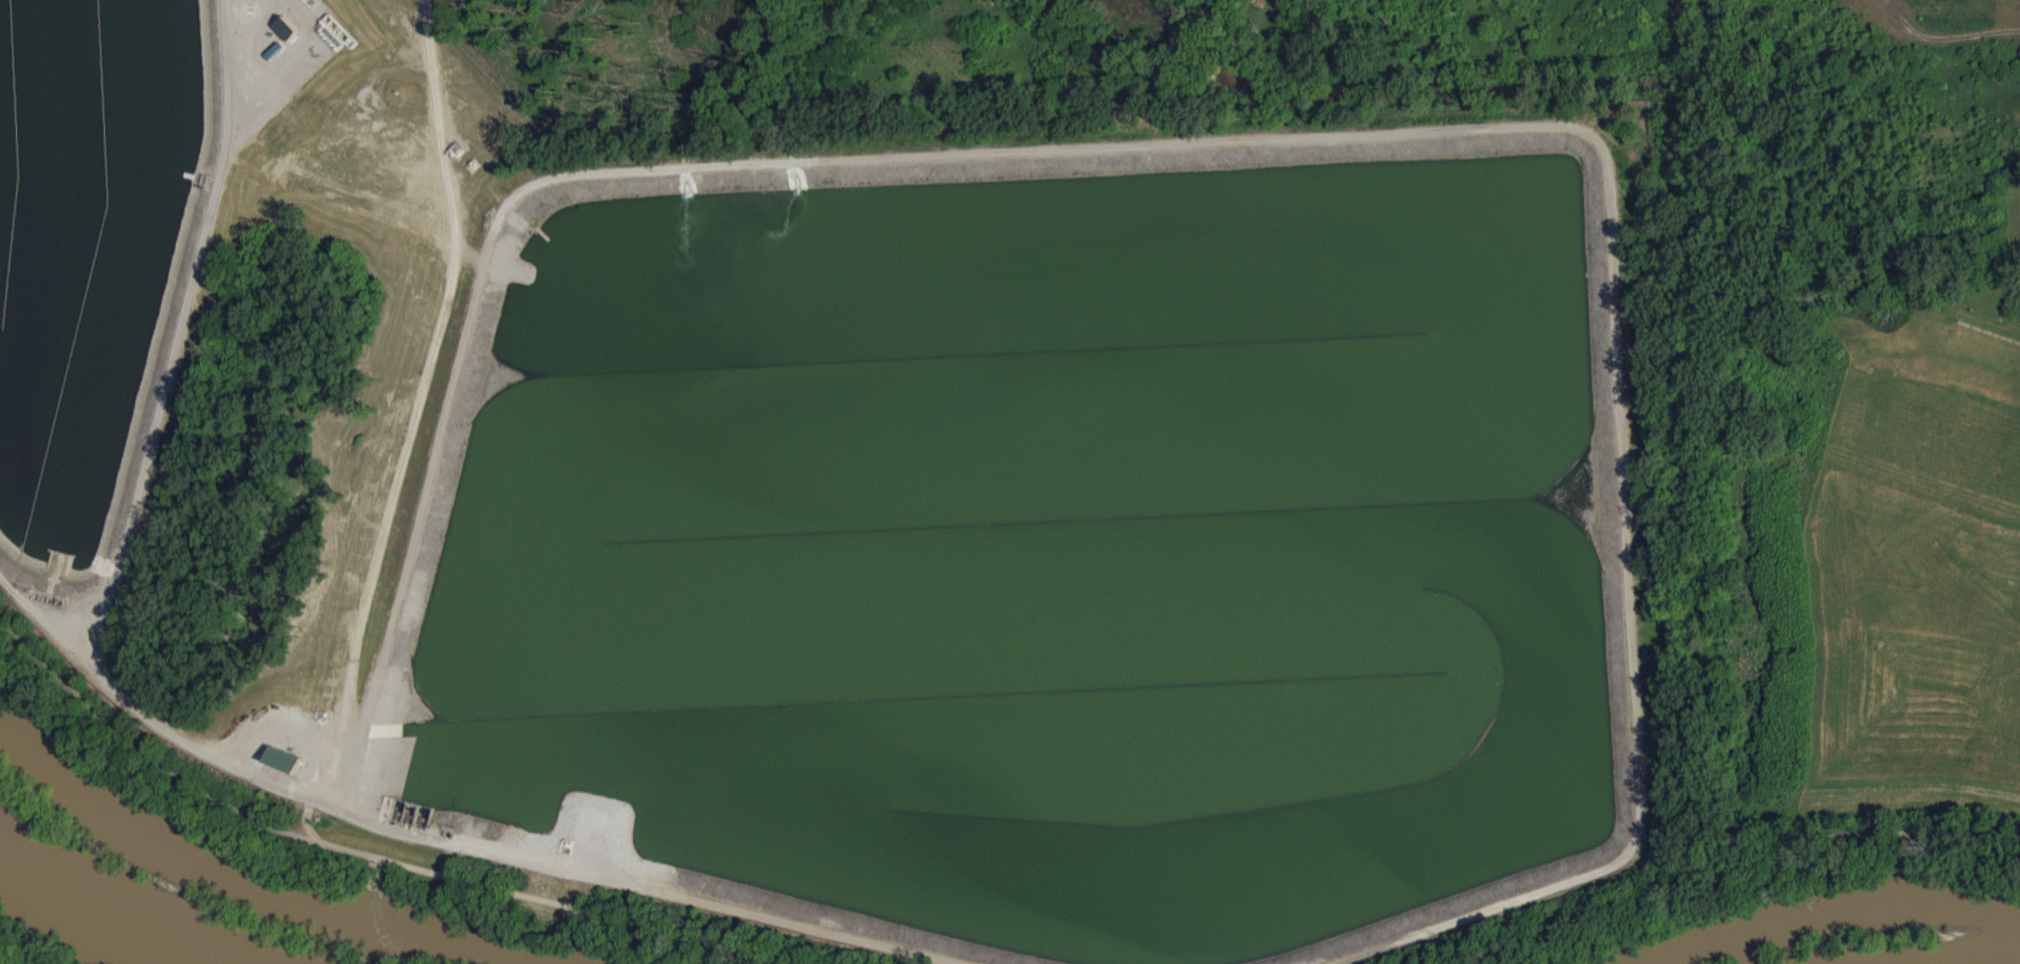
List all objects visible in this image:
building: (289, 35)
road: (1254, 140)
road: (426, 376)
road: (146, 473)
wastewater plant: (845, 503)
park: (1872, 572)
road: (54, 628)
building: (287, 766)
road: (368, 856)
road: (1727, 859)
road: (644, 888)
river: (121, 911)
river: (1901, 962)

